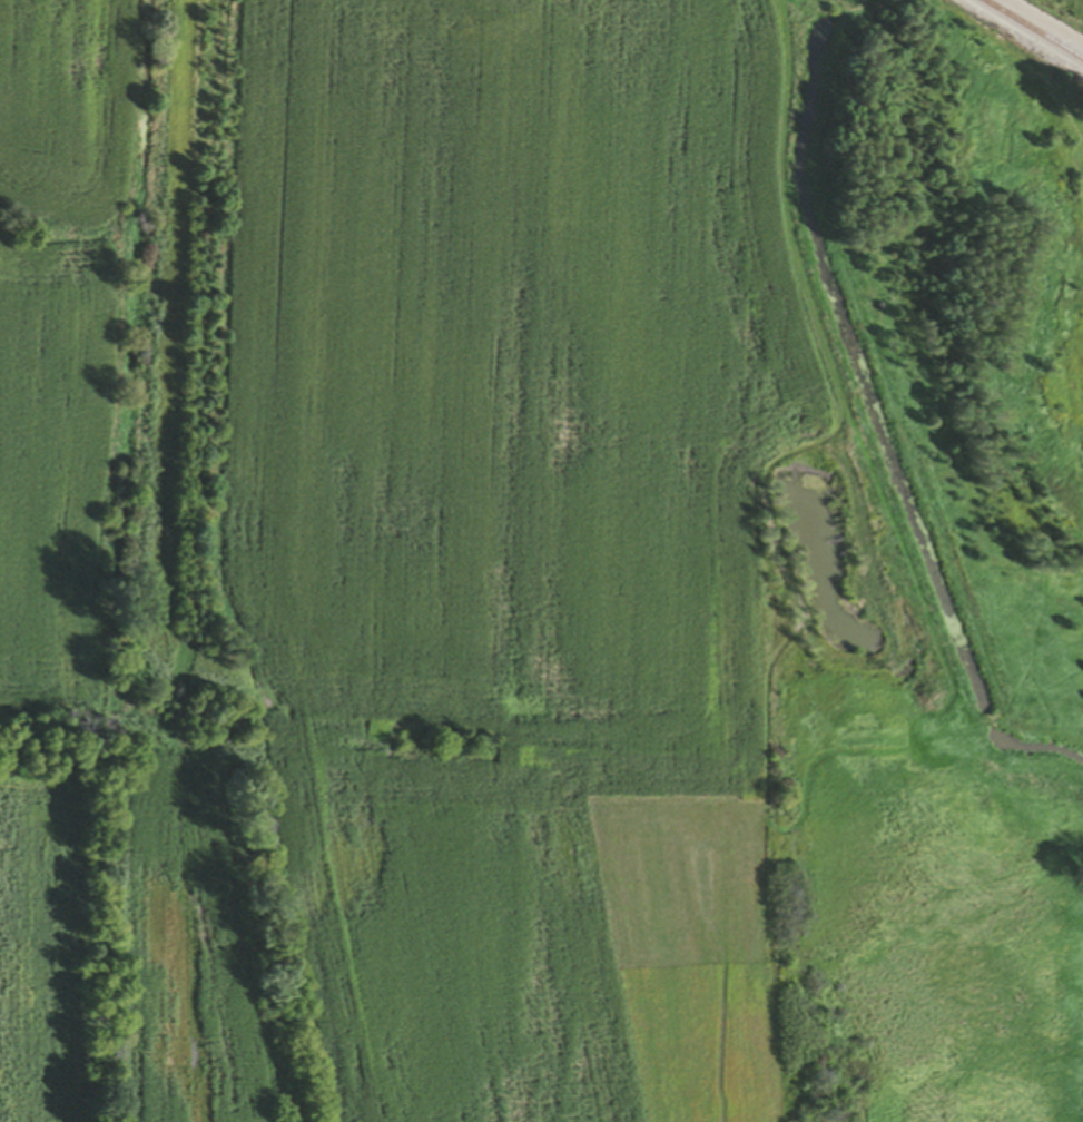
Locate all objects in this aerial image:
railway: (1028, 31)

